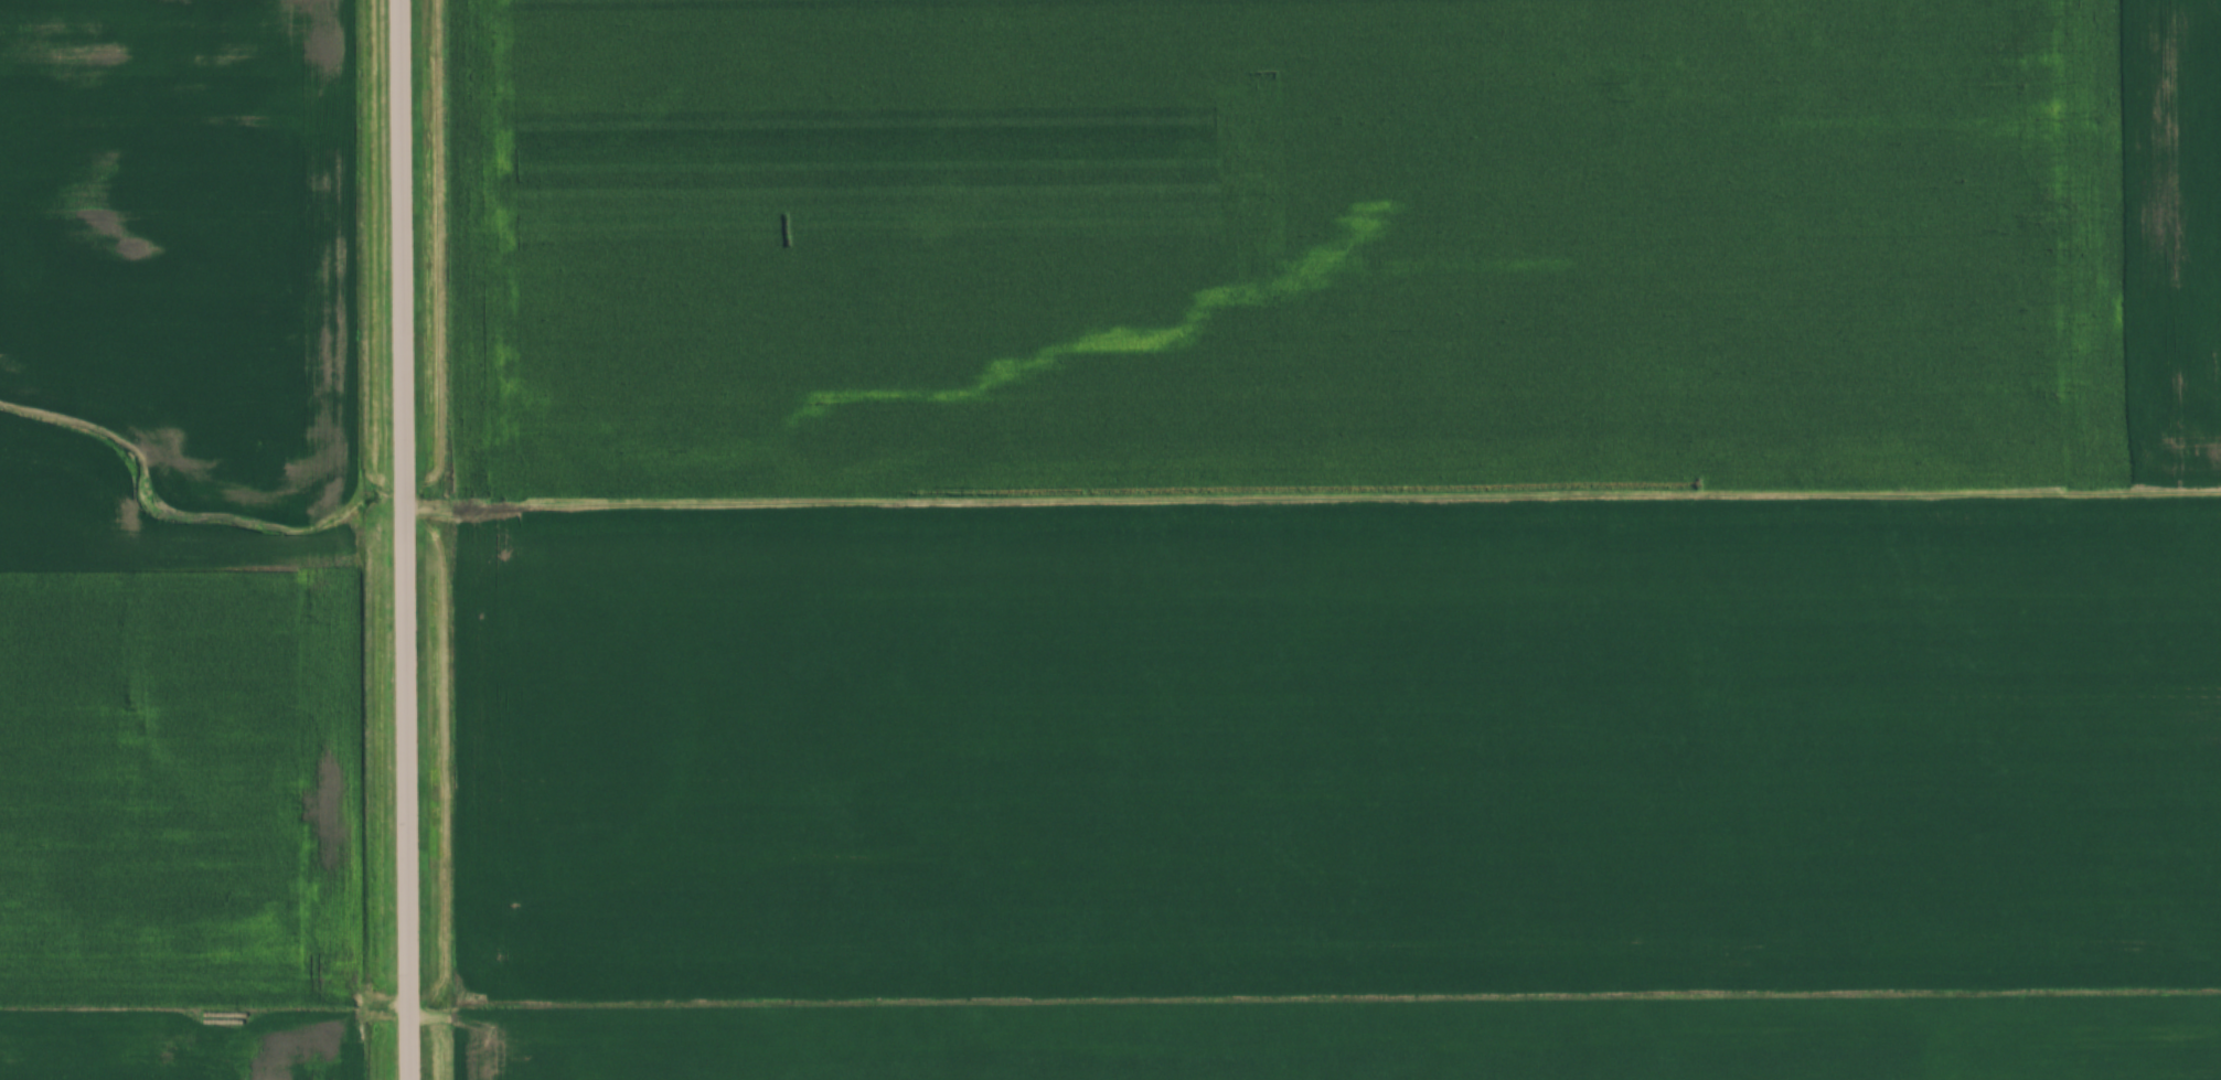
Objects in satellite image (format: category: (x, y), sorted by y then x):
road: (396, 539)

